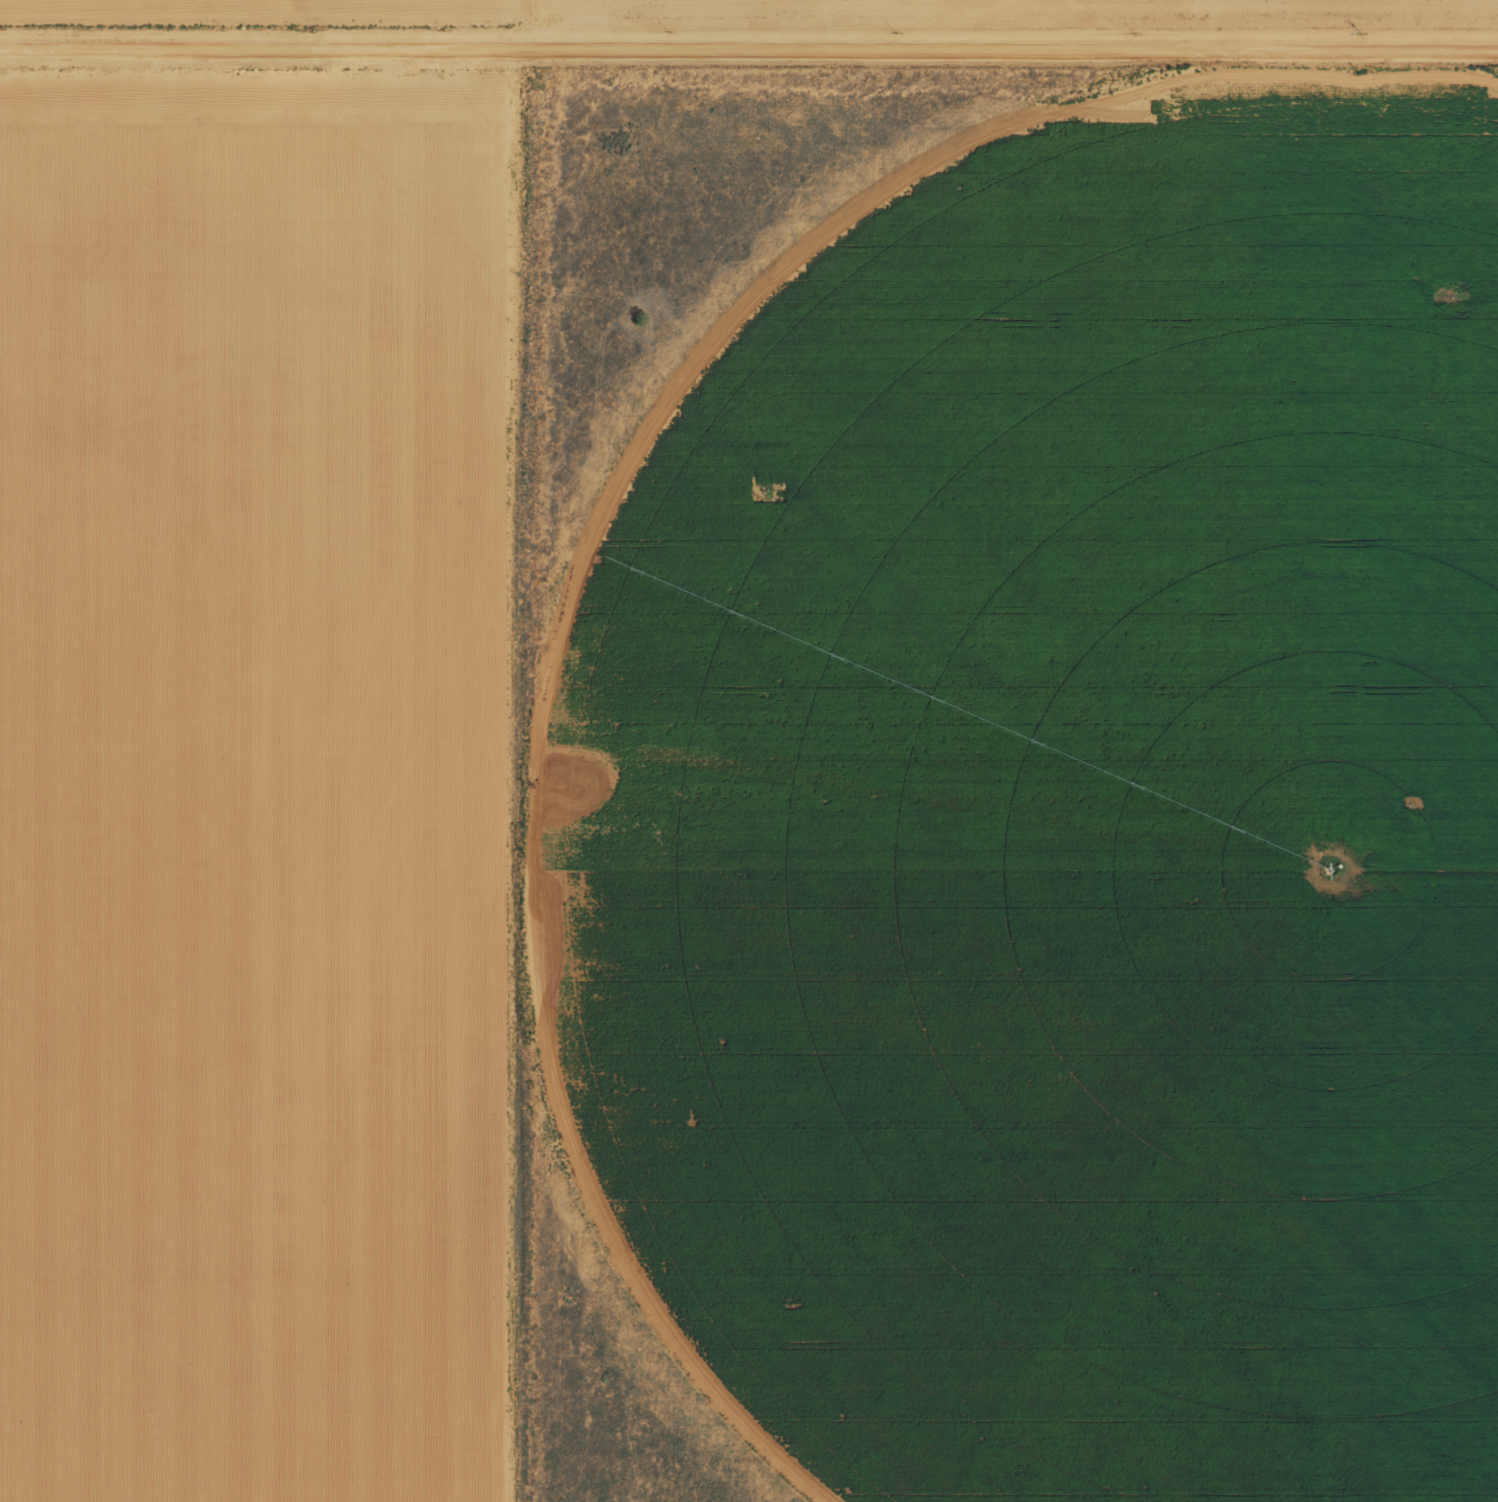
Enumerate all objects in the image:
road: (749, 16)

